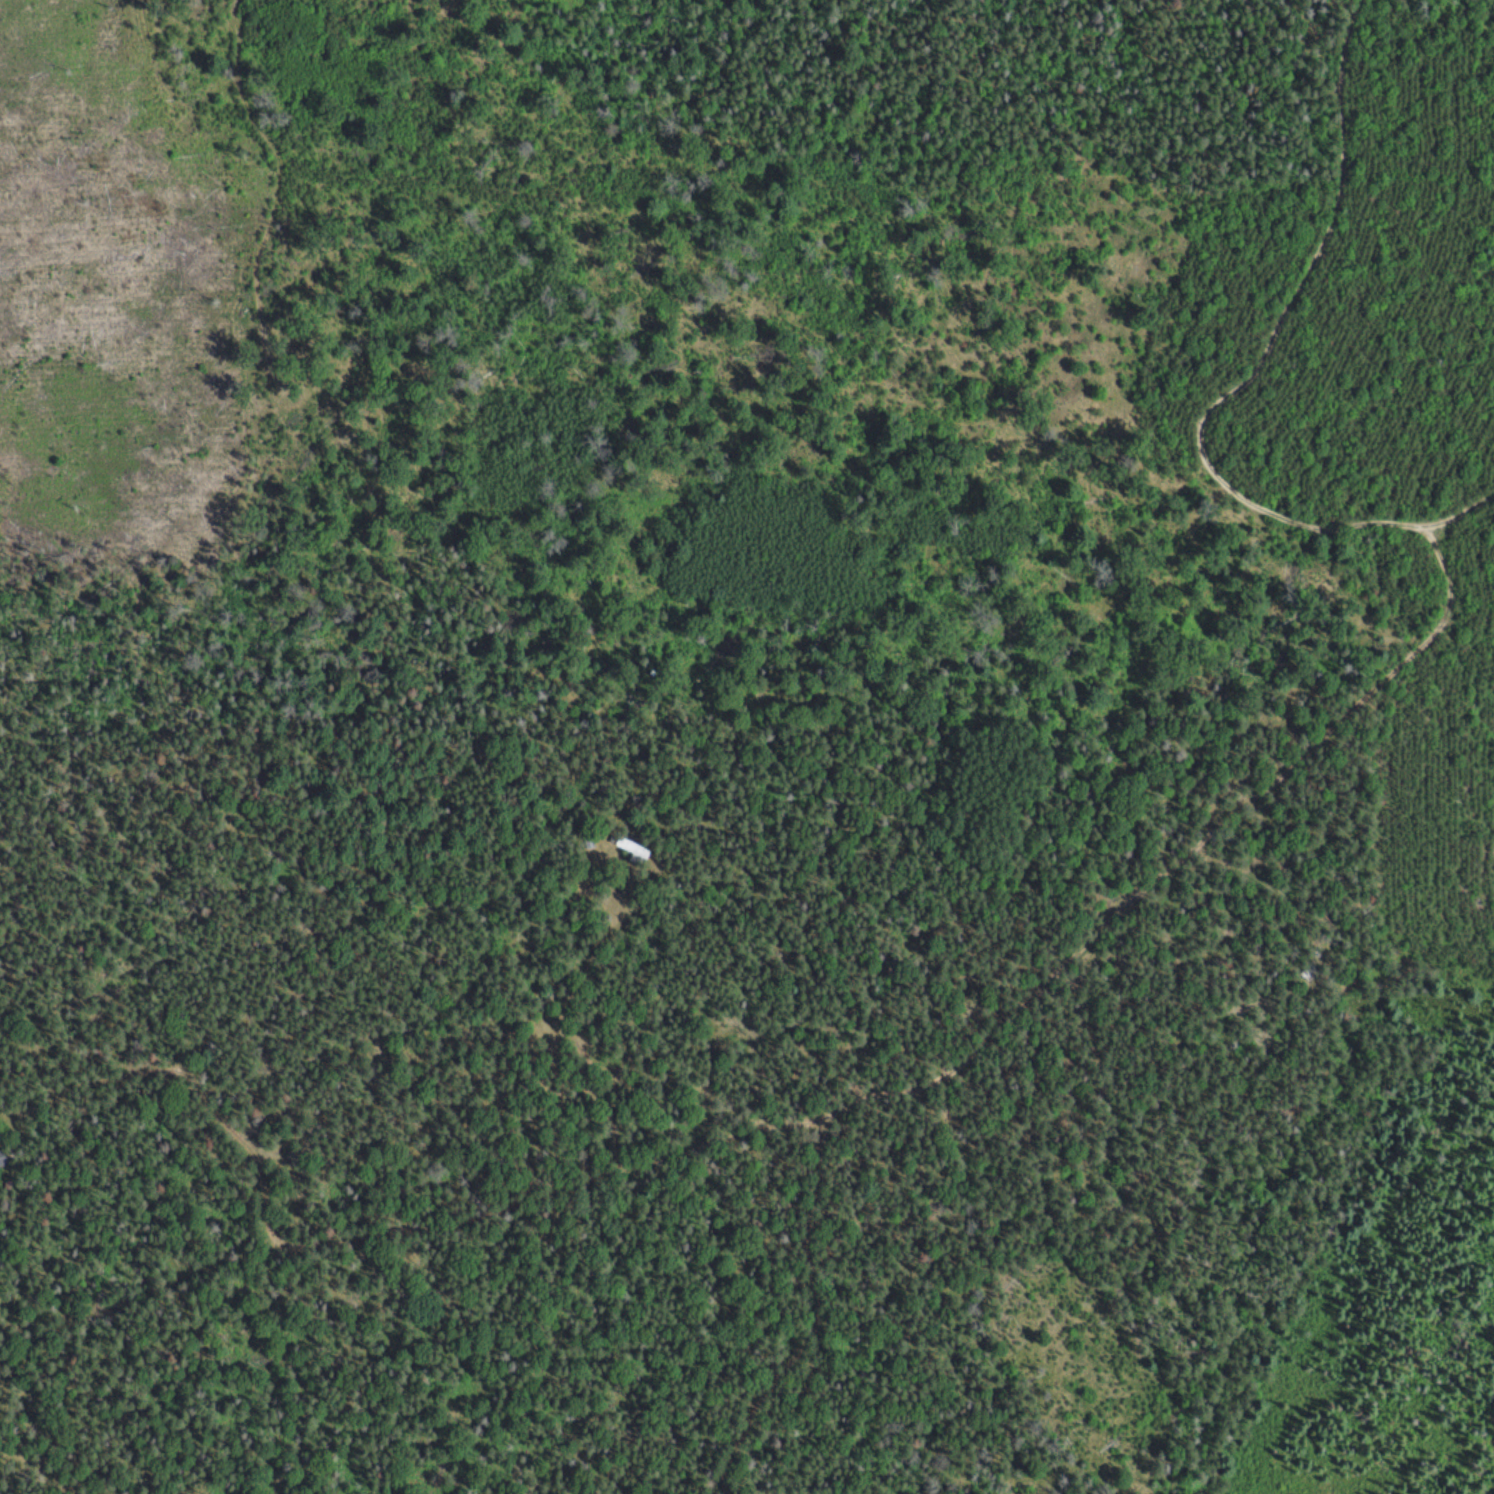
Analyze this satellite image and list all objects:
road: (1460, 513)
building: (632, 850)
road: (1137, 881)

